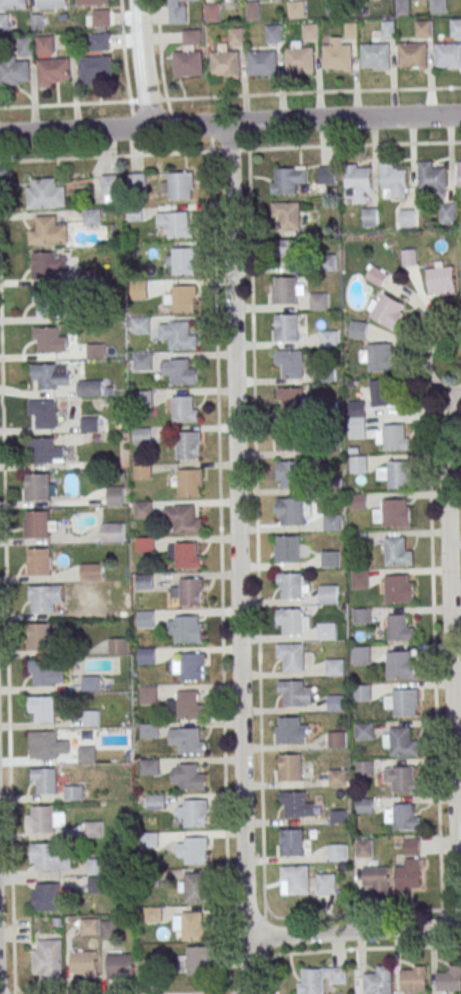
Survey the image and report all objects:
building: (92, 2)
building: (51, 3)
building: (12, 4)
building: (402, 6)
building: (438, 6)
building: (334, 8)
building: (296, 9)
building: (252, 10)
building: (178, 11)
building: (213, 12)
building: (101, 18)
building: (4, 22)
building: (38, 22)
building: (456, 27)
building: (388, 28)
building: (423, 28)
building: (351, 29)
building: (311, 31)
building: (273, 33)
building: (236, 36)
building: (192, 37)
building: (100, 41)
building: (46, 44)
building: (26, 46)
building: (413, 55)
building: (375, 56)
building: (448, 56)
building: (337, 57)
building: (299, 59)
road: (141, 63)
building: (225, 63)
building: (262, 63)
building: (94, 69)
building: (52, 71)
building: (13, 73)
road: (230, 95)
road: (230, 123)
road: (230, 149)
building: (326, 175)
building: (459, 175)
building: (432, 178)
building: (287, 179)
building: (394, 181)
building: (358, 183)
building: (179, 186)
building: (110, 188)
building: (44, 194)
building: (447, 213)
building: (288, 215)
building: (91, 216)
building: (370, 217)
building: (407, 218)
building: (176, 223)
building: (49, 230)
building: (289, 252)
building: (409, 258)
building: (181, 260)
building: (326, 262)
building: (47, 265)
building: (376, 275)
building: (441, 281)
building: (292, 288)
building: (139, 289)
building: (181, 299)
building: (318, 301)
building: (46, 303)
building: (386, 310)
building: (91, 314)
building: (141, 325)
building: (283, 328)
building: (358, 329)
building: (179, 335)
building: (329, 338)
building: (50, 340)
building: (96, 350)
building: (377, 356)
building: (143, 361)
road: (426, 361)
building: (290, 363)
building: (180, 371)
building: (326, 375)
building: (53, 376)
building: (90, 388)
building: (381, 392)
building: (144, 399)
building: (291, 400)
building: (357, 408)
building: (182, 409)
building: (329, 409)
building: (43, 413)
building: (90, 425)
building: (357, 425)
building: (142, 436)
building: (393, 437)
building: (287, 441)
building: (187, 445)
building: (331, 447)
building: (45, 451)
building: (358, 464)
building: (143, 473)
building: (290, 474)
building: (397, 474)
building: (188, 482)
building: (36, 487)
road: (218, 493)
building: (116, 495)
building: (144, 510)
building: (291, 511)
building: (396, 513)
building: (183, 519)
building: (333, 522)
building: (38, 524)
road: (236, 531)
road: (256, 532)
building: (114, 533)
building: (146, 545)
building: (287, 549)
building: (397, 552)
building: (186, 555)
building: (330, 559)
building: (41, 561)
building: (92, 570)
building: (360, 579)
building: (145, 581)
building: (291, 585)
building: (398, 589)
building: (191, 592)
building: (330, 595)
building: (45, 598)
building: (362, 615)
building: (146, 619)
building: (291, 622)
building: (400, 627)
building: (187, 629)
building: (327, 631)
building: (39, 636)
building: (118, 646)
building: (362, 654)
building: (148, 656)
building: (292, 657)
road: (451, 661)
building: (400, 665)
building: (192, 666)
building: (336, 667)
building: (45, 674)
building: (91, 683)
building: (295, 693)
building: (364, 693)
building: (149, 694)
road: (435, 699)
building: (407, 702)
building: (337, 703)
building: (188, 705)
building: (41, 709)
building: (92, 718)
building: (292, 730)
building: (366, 731)
building: (150, 732)
building: (338, 739)
building: (190, 741)
building: (404, 742)
building: (45, 744)
building: (87, 754)
building: (152, 767)
building: (291, 767)
building: (366, 769)
building: (188, 776)
building: (339, 778)
building: (403, 778)
building: (45, 780)
building: (73, 793)
building: (155, 801)
building: (296, 804)
building: (366, 806)
building: (195, 813)
building: (402, 817)
building: (47, 819)
building: (94, 829)
building: (293, 843)
building: (412, 847)
building: (365, 848)
building: (196, 850)
building: (340, 852)
building: (51, 857)
building: (97, 867)
building: (410, 874)
building: (377, 878)
building: (297, 879)
building: (327, 884)
building: (97, 885)
building: (195, 888)
building: (46, 896)
building: (152, 914)
building: (192, 925)
building: (90, 927)
building: (109, 929)
road: (353, 930)
road: (348, 950)
building: (47, 959)
building: (195, 961)
building: (83, 964)
building: (120, 965)
road: (246, 967)
building: (319, 979)
building: (413, 979)
building: (450, 979)
building: (379, 981)

